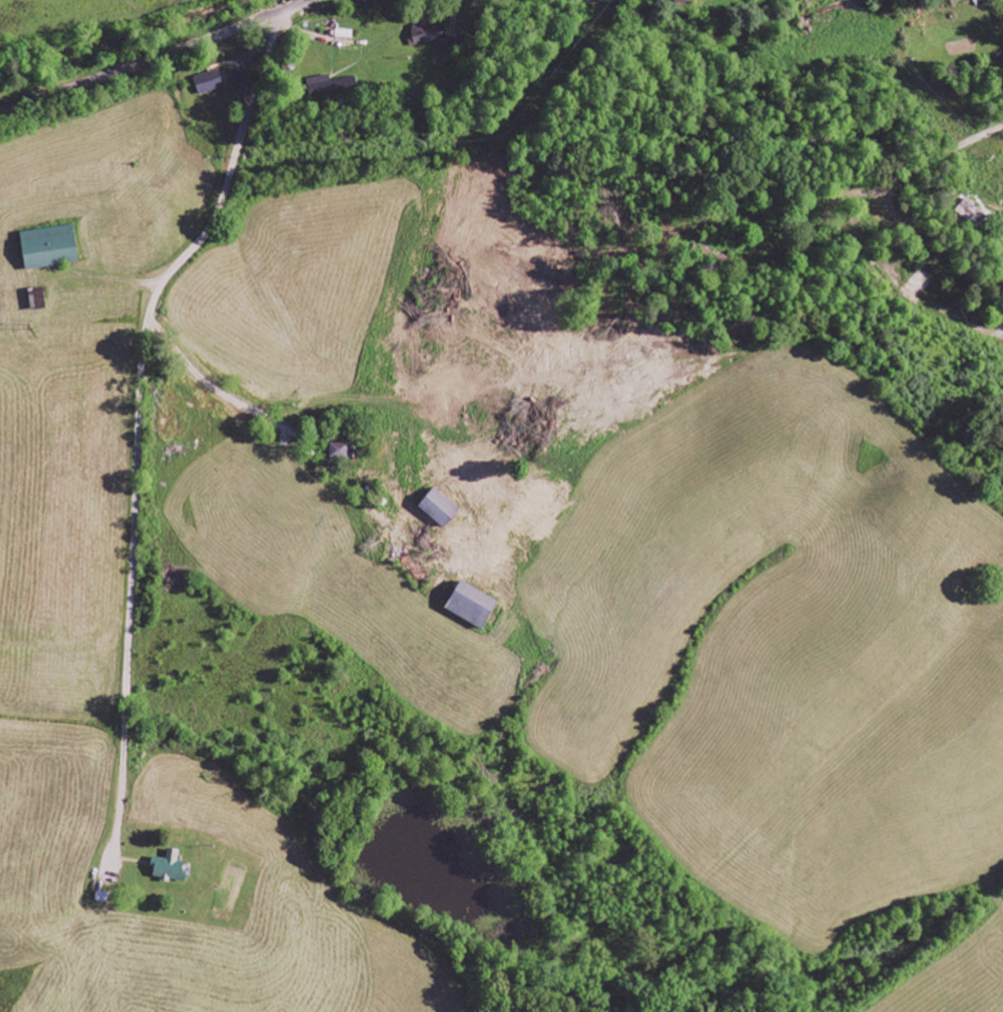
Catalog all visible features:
building: (430, 33)
road: (158, 56)
building: (210, 83)
building: (330, 84)
road: (915, 180)
building: (51, 247)
road: (926, 252)
road: (139, 392)
road: (263, 440)
building: (340, 450)
building: (440, 507)
building: (473, 605)
building: (170, 868)

